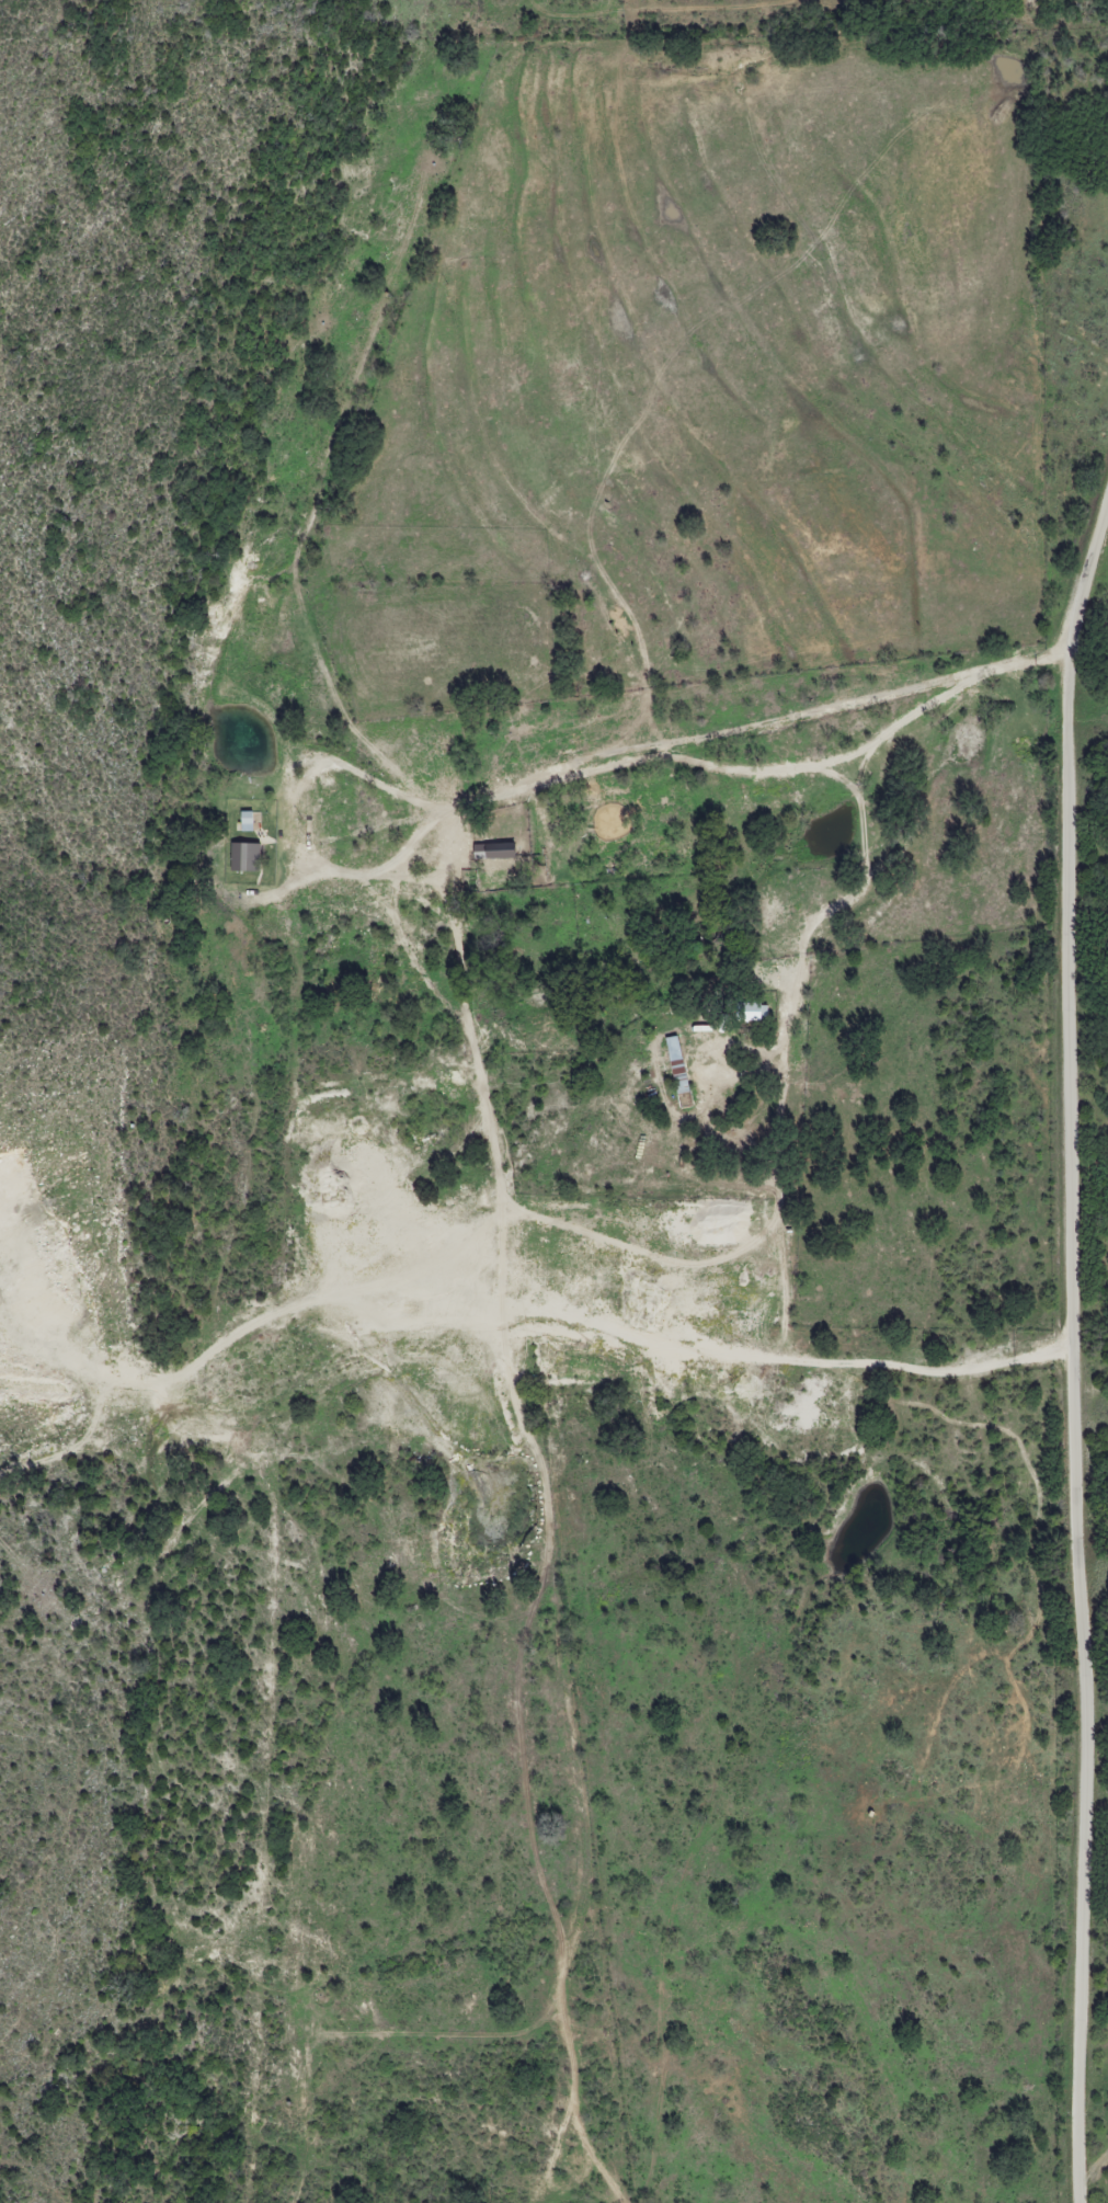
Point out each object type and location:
park: (1074, 483)
building: (286, 776)
building: (244, 824)
building: (498, 852)
building: (239, 857)
road: (467, 975)
building: (752, 1013)
building: (676, 1076)
road: (1072, 1348)

